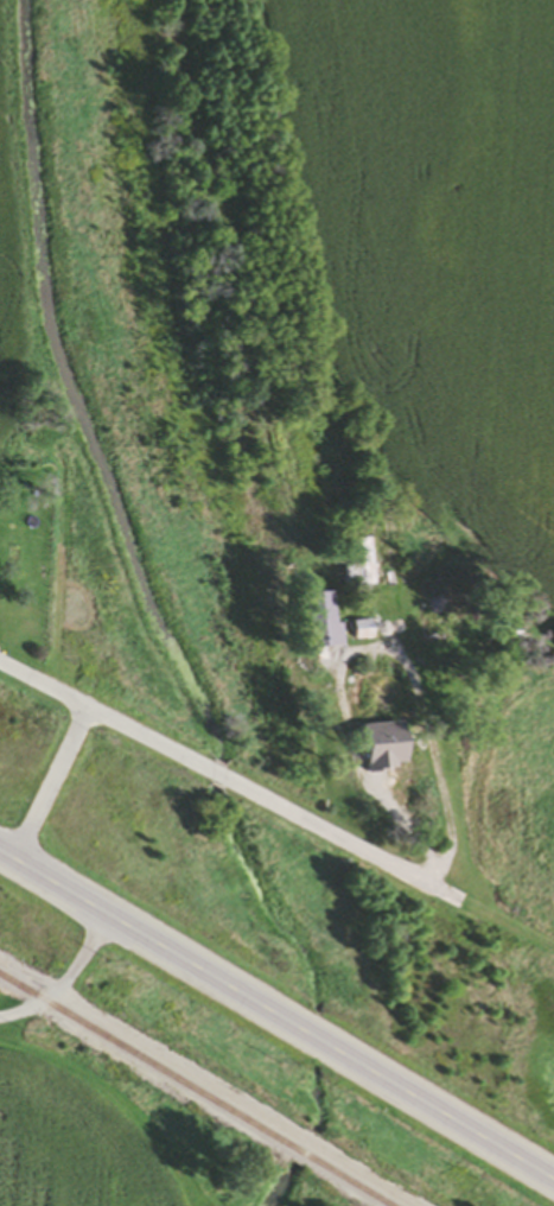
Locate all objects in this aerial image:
building: (361, 566)
building: (435, 616)
building: (365, 631)
building: (376, 699)
road: (53, 780)
road: (241, 780)
road: (439, 805)
road: (65, 983)
road: (275, 1016)
railway: (191, 1092)

